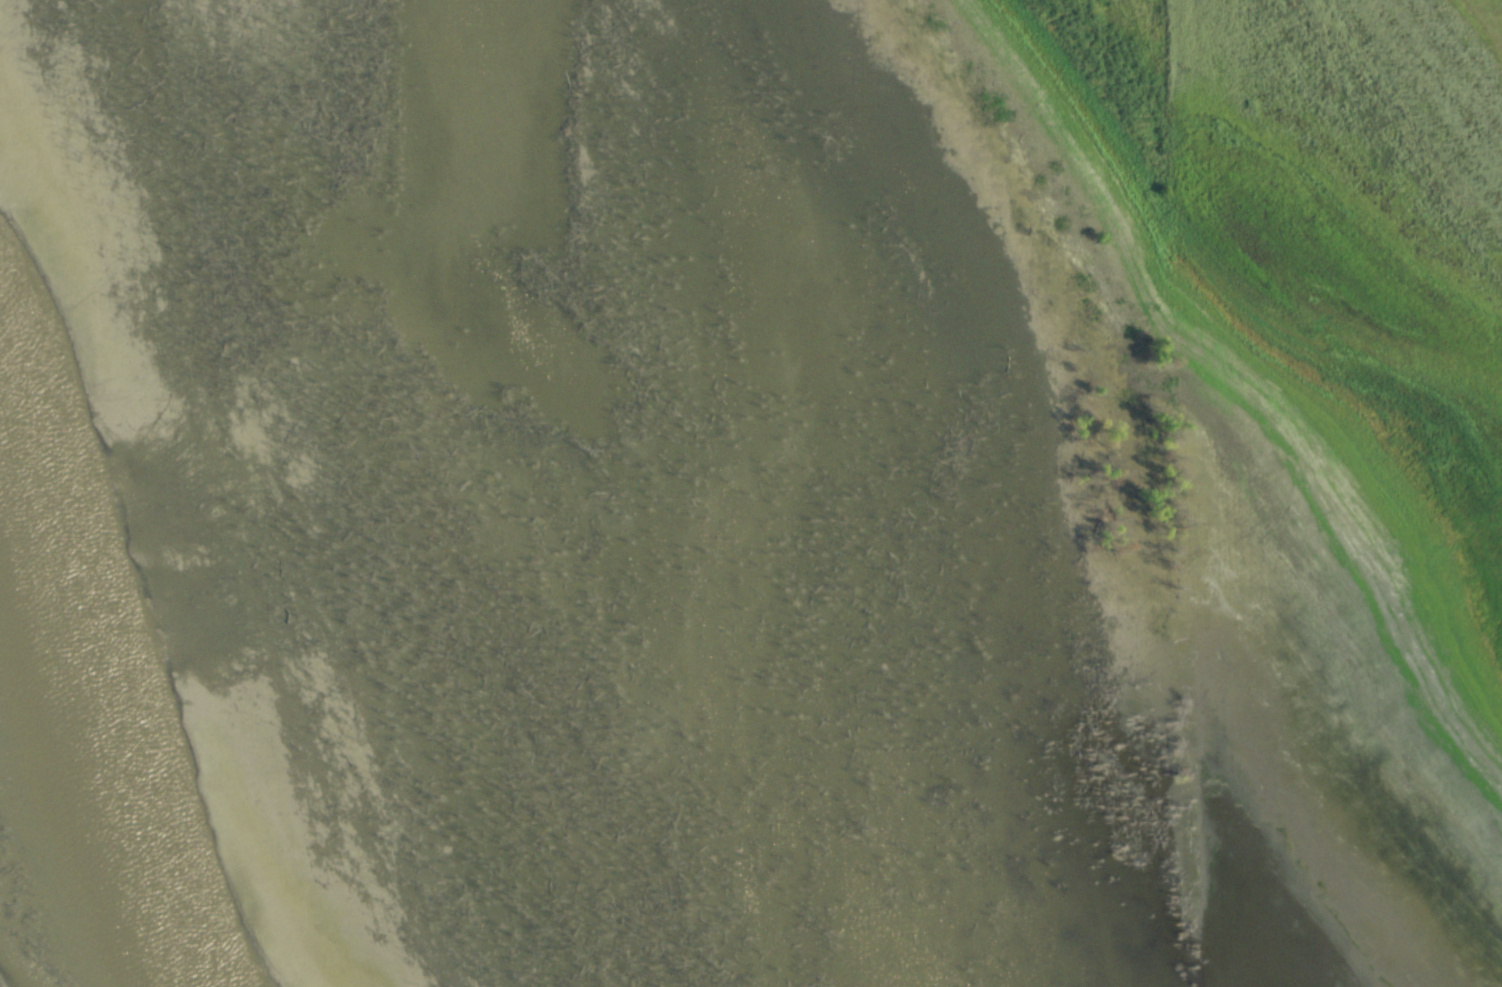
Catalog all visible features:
river: (89, 772)

